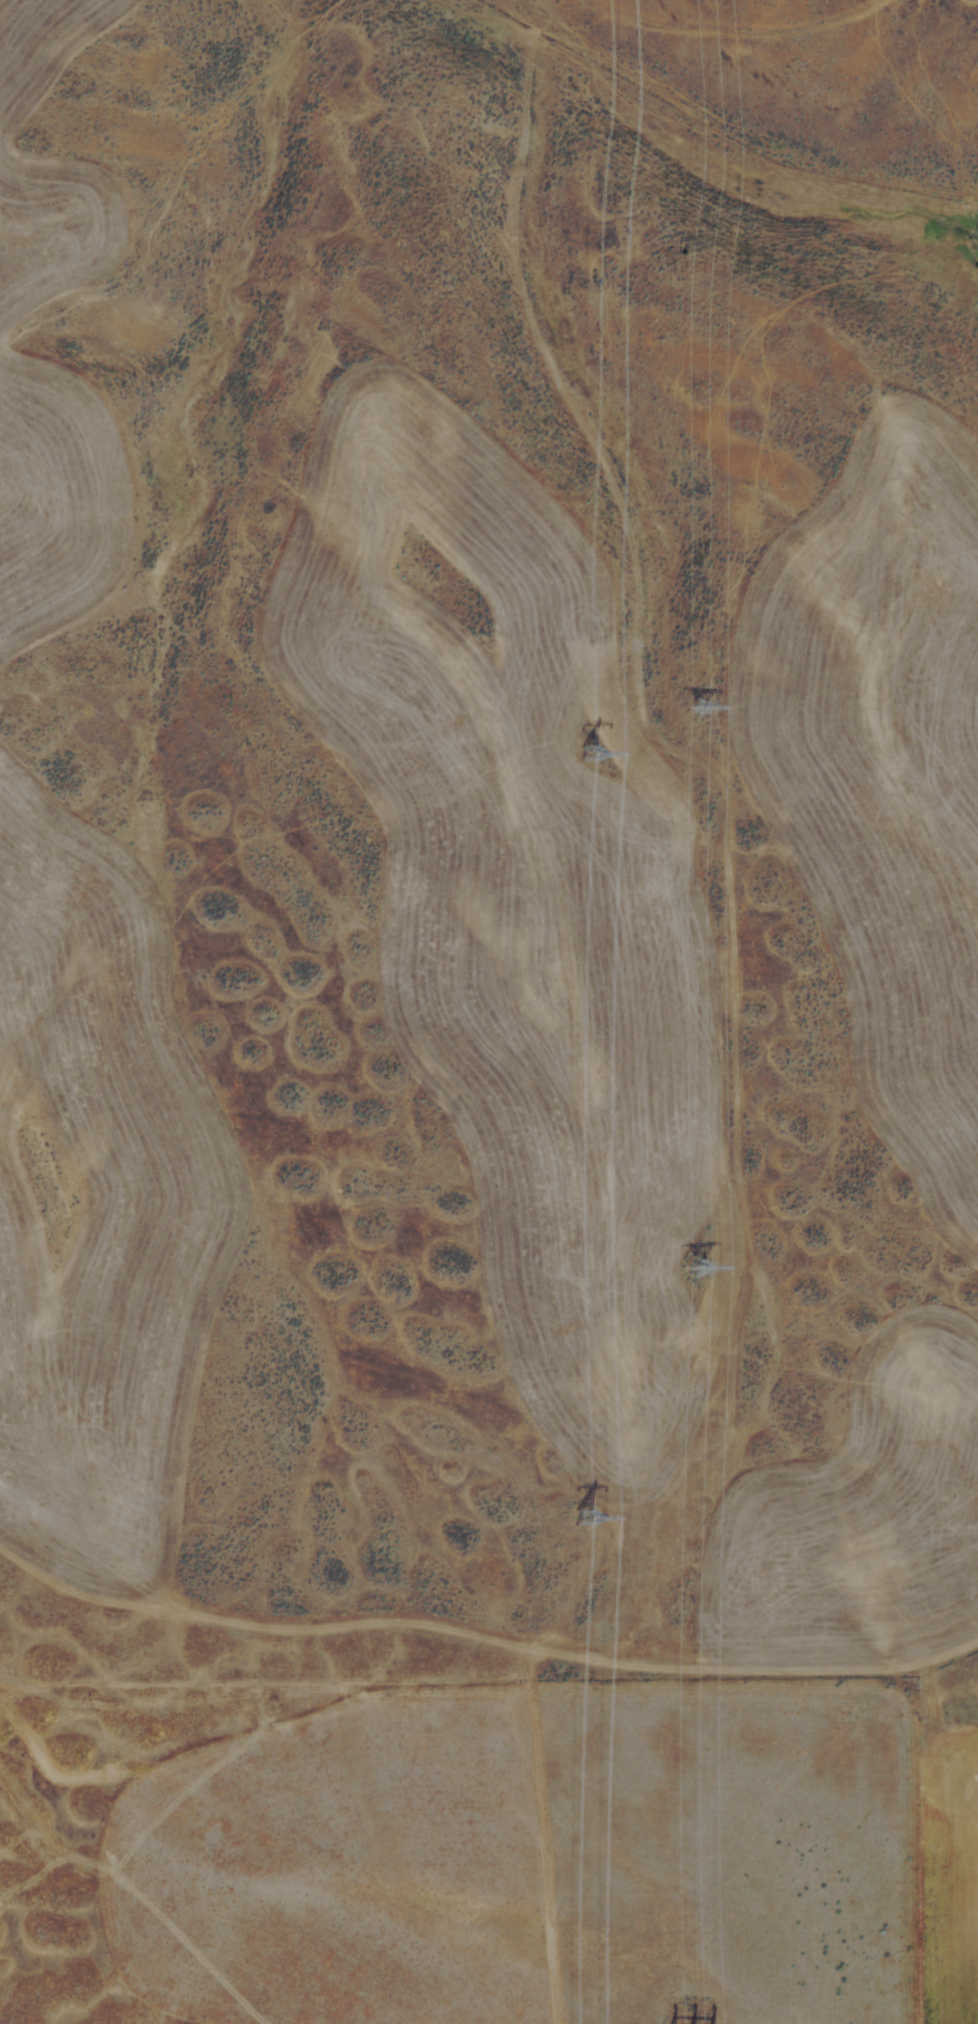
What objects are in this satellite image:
power tower: (697, 707)
power tower: (579, 768)
power tower: (712, 1276)
power tower: (573, 1520)

